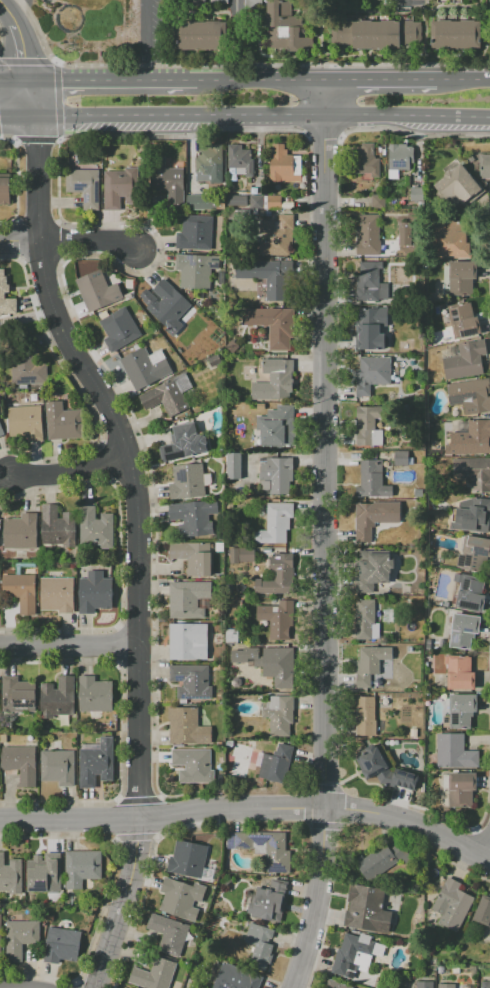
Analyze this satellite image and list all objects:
building: (219, 1)
road: (401, 1)
building: (448, 1)
road: (52, 2)
building: (192, 3)
building: (252, 3)
road: (236, 4)
parking lot: (31, 5)
road: (21, 13)
building: (285, 27)
parking lot: (156, 33)
building: (376, 34)
building: (455, 34)
building: (200, 35)
road: (23, 38)
road: (151, 40)
road: (378, 78)
road: (461, 78)
road: (258, 79)
road: (113, 80)
road: (16, 81)
traffic signals: (33, 81)
road: (18, 116)
traffic signals: (37, 116)
road: (263, 116)
building: (240, 159)
building: (399, 159)
building: (366, 162)
building: (209, 163)
building: (284, 165)
building: (485, 166)
building: (167, 181)
building: (458, 185)
building: (84, 186)
building: (118, 188)
building: (5, 191)
building: (416, 194)
building: (237, 200)
building: (378, 201)
building: (201, 202)
building: (269, 202)
building: (195, 233)
building: (404, 233)
building: (365, 234)
building: (276, 236)
building: (452, 238)
road: (19, 241)
road: (91, 243)
building: (195, 270)
building: (279, 278)
building: (461, 278)
building: (369, 283)
building: (98, 290)
building: (5, 298)
building: (166, 303)
building: (464, 320)
building: (273, 326)
building: (370, 327)
building: (119, 329)
building: (232, 346)
building: (215, 361)
building: (465, 361)
building: (27, 364)
building: (145, 367)
building: (372, 374)
building: (279, 376)
building: (168, 395)
building: (469, 396)
building: (261, 406)
building: (26, 422)
building: (64, 422)
building: (368, 425)
building: (277, 427)
building: (1, 432)
building: (472, 438)
building: (184, 443)
road: (324, 444)
building: (401, 458)
building: (233, 466)
road: (69, 473)
building: (472, 473)
building: (276, 475)
building: (188, 481)
building: (372, 482)
building: (470, 515)
building: (194, 517)
building: (374, 517)
building: (275, 523)
road: (143, 526)
building: (57, 527)
building: (95, 528)
building: (20, 531)
building: (247, 554)
building: (474, 554)
building: (194, 557)
building: (372, 571)
building: (278, 577)
building: (21, 591)
building: (469, 592)
building: (95, 593)
building: (58, 594)
building: (188, 599)
building: (278, 619)
building: (366, 620)
building: (463, 630)
building: (232, 637)
building: (188, 641)
road: (71, 650)
building: (370, 663)
building: (277, 665)
building: (459, 673)
building: (191, 681)
building: (18, 695)
building: (94, 695)
building: (57, 697)
building: (462, 710)
building: (279, 715)
building: (364, 715)
building: (187, 726)
building: (413, 732)
building: (258, 746)
building: (455, 751)
building: (274, 761)
building: (96, 762)
building: (20, 763)
building: (193, 765)
building: (58, 767)
building: (383, 769)
building: (459, 788)
road: (161, 814)
road: (409, 825)
building: (261, 847)
building: (187, 859)
building: (381, 860)
building: (81, 867)
building: (44, 873)
building: (11, 875)
building: (181, 898)
road: (316, 900)
building: (269, 901)
building: (452, 904)
building: (367, 910)
building: (483, 911)
building: (168, 933)
building: (0, 935)
building: (20, 937)
building: (61, 945)
building: (259, 946)
building: (355, 955)
building: (154, 974)
building: (235, 977)
building: (423, 984)
building: (485, 984)
building: (336, 985)
building: (446, 986)

